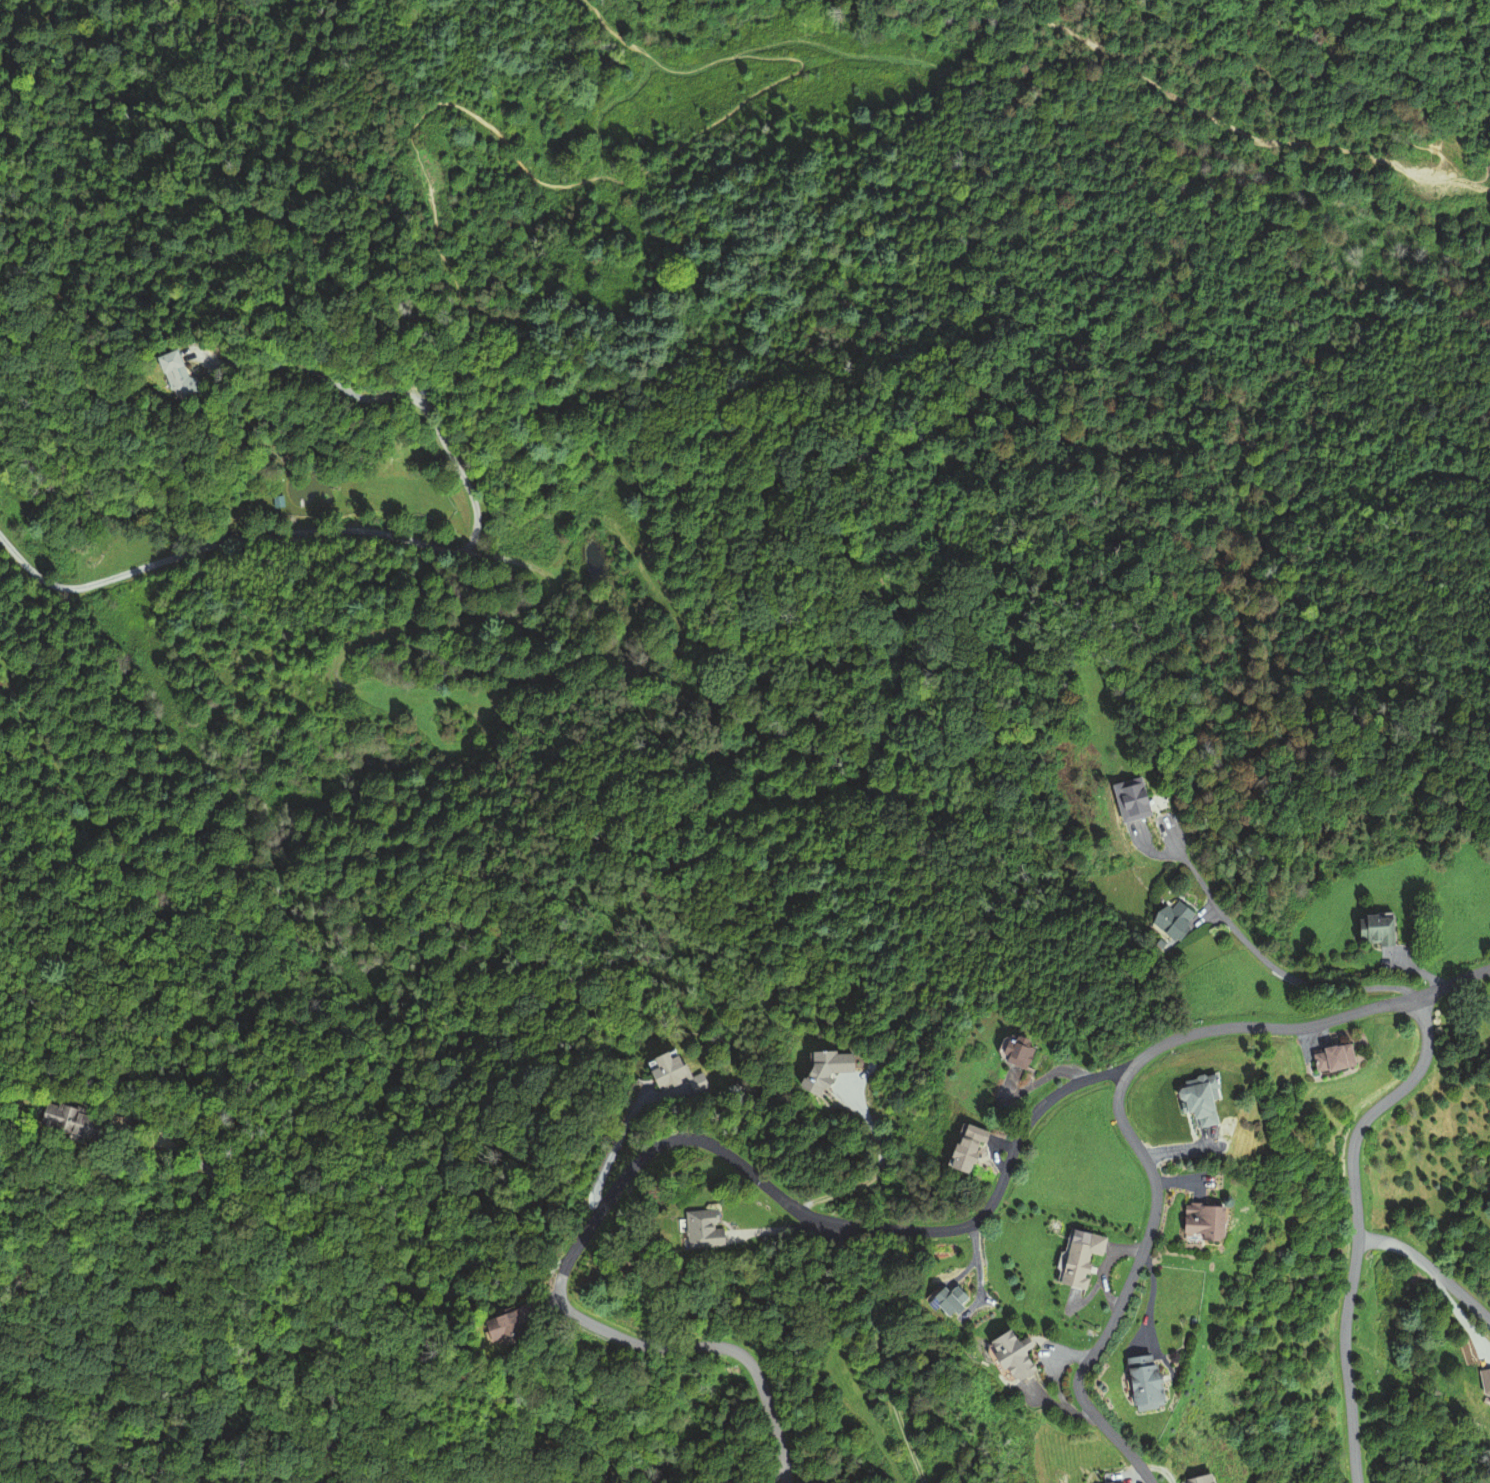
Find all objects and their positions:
building: (182, 373)
road: (390, 396)
building: (280, 500)
pier: (300, 502)
road: (372, 530)
building: (1129, 800)
building: (1175, 919)
building: (1378, 929)
road: (1271, 965)
road: (1453, 981)
building: (1017, 1052)
building: (1326, 1060)
building: (660, 1071)
road: (1116, 1077)
road: (1076, 1084)
road: (1121, 1084)
building: (1194, 1104)
building: (55, 1123)
road: (862, 1183)
building: (1196, 1220)
road: (1356, 1225)
building: (697, 1231)
building: (1079, 1261)
road: (1429, 1266)
road: (560, 1290)
building: (948, 1301)
road: (1115, 1313)
building: (497, 1330)
road: (879, 1353)
building: (1008, 1356)
building: (1138, 1385)
road: (777, 1476)
building: (1189, 1478)

